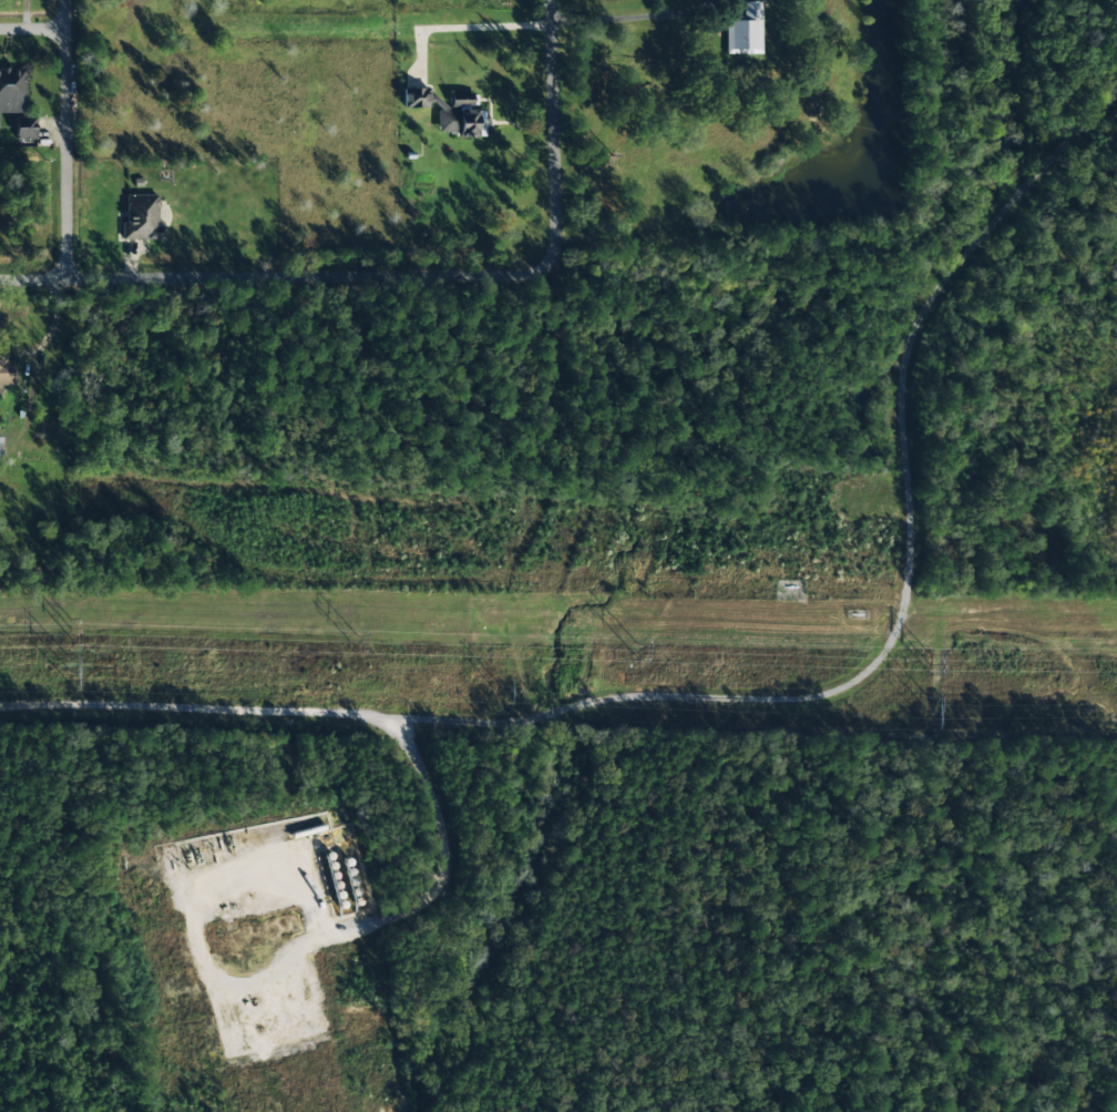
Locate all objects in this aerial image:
building: (744, 30)
road: (33, 31)
building: (12, 91)
building: (414, 99)
building: (25, 133)
road: (551, 136)
road: (68, 139)
building: (142, 218)
road: (276, 276)
building: (8, 371)
building: (0, 448)
road: (911, 501)
power tower: (70, 671)
power tower: (500, 690)
road: (285, 714)

